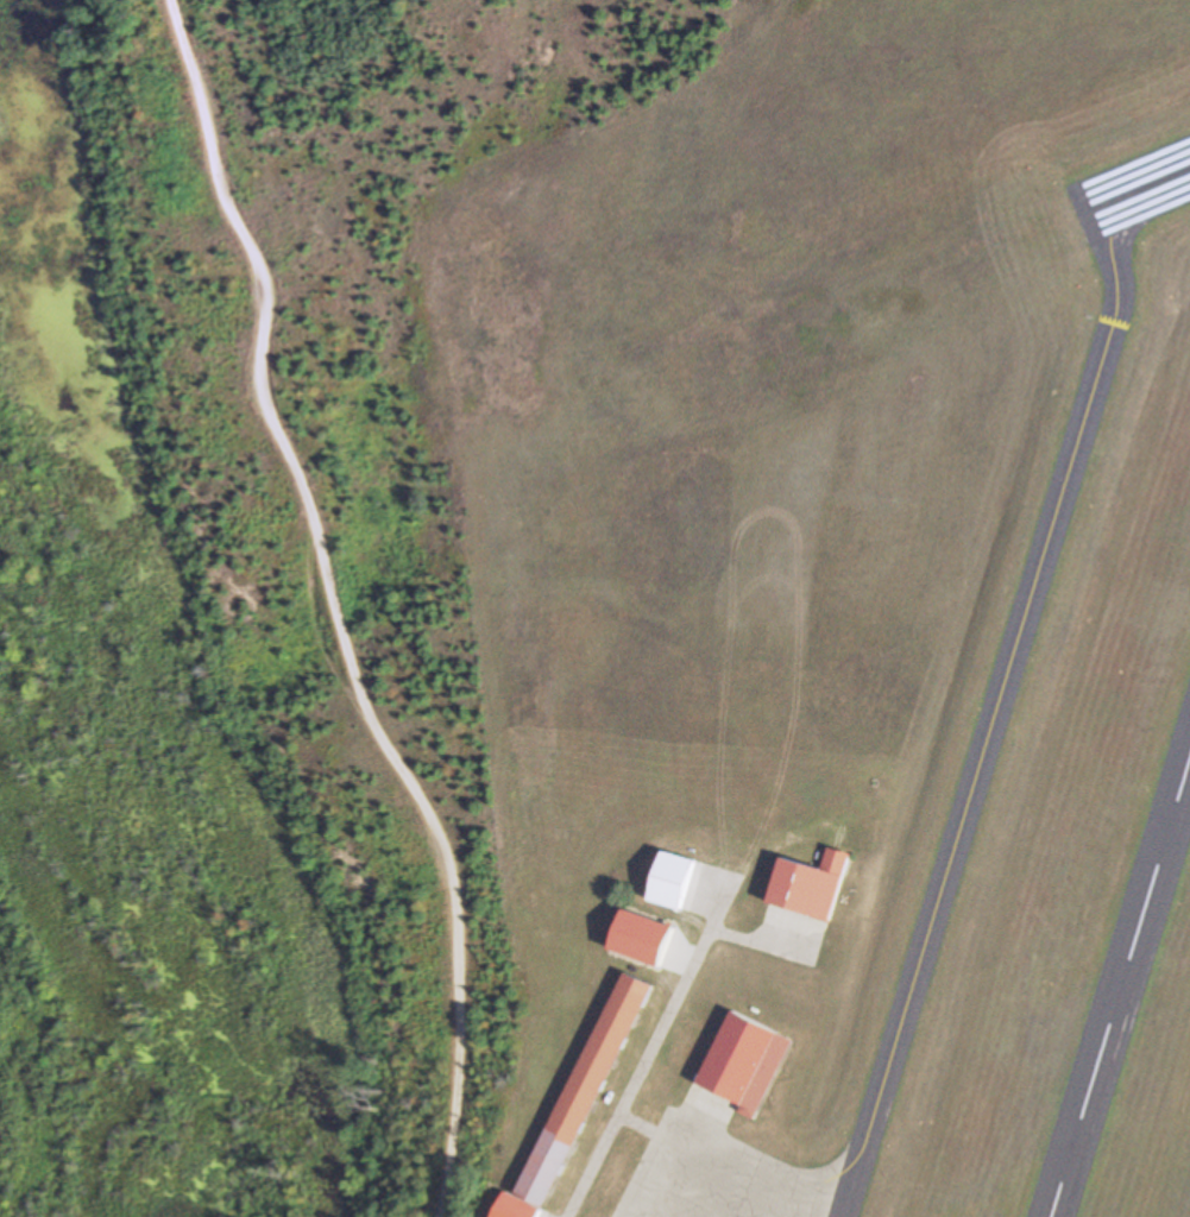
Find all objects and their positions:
airport runway: (1145, 187)
road: (336, 605)
airport: (838, 622)
airport taxiway: (996, 708)
airport hangar: (672, 882)
building: (672, 882)
airport hangar: (811, 888)
building: (811, 888)
airport runway: (1121, 990)
road: (650, 1049)
airport hangar: (745, 1061)
building: (745, 1061)
airport hangar: (585, 1089)
building: (585, 1089)
airport apron: (725, 1179)
airport hangar: (516, 1207)
building: (516, 1207)

